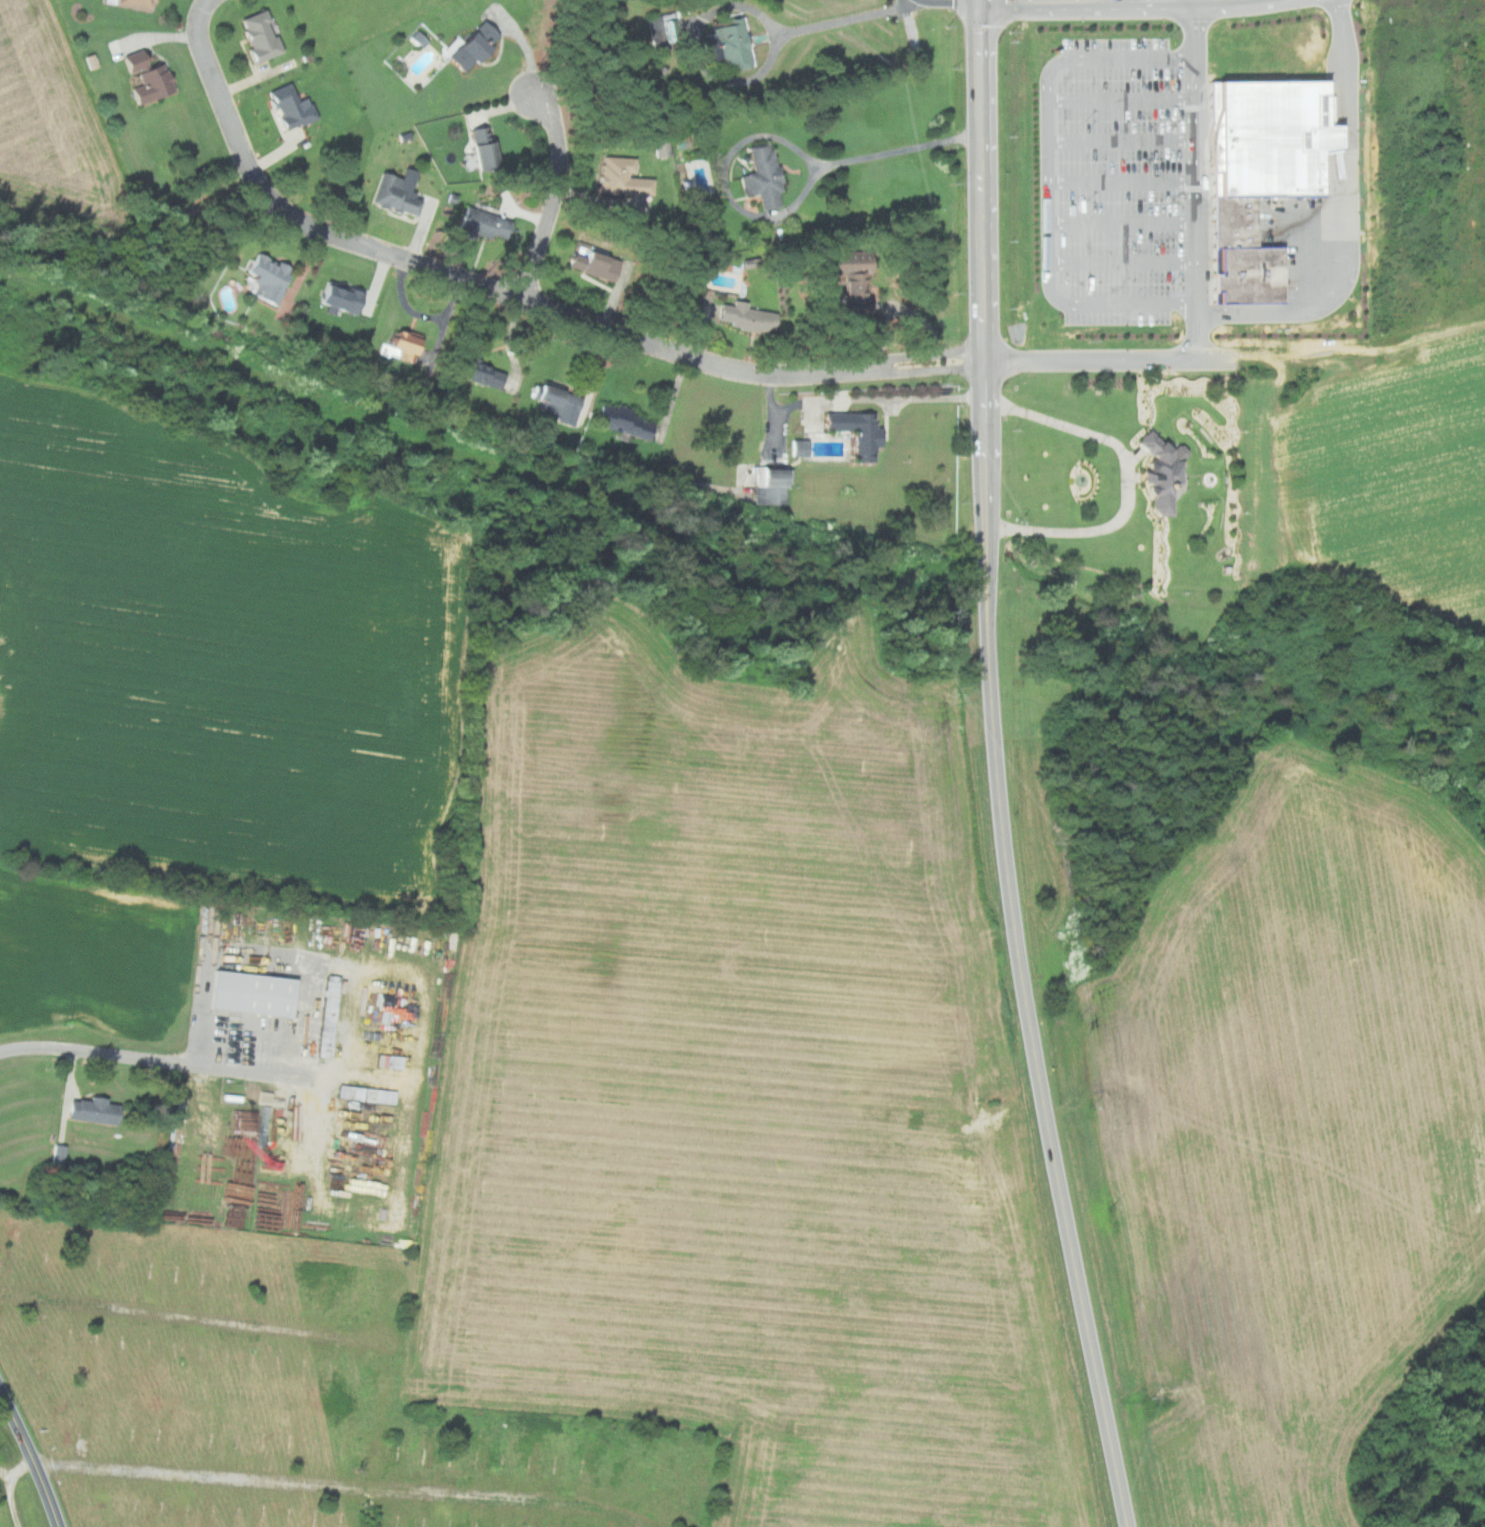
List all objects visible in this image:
building: (133, 2)
road: (848, 19)
building: (665, 29)
building: (264, 34)
building: (480, 44)
building: (732, 45)
building: (130, 61)
building: (150, 82)
road: (1122, 98)
building: (288, 106)
building: (1263, 138)
road: (1122, 139)
building: (660, 147)
building: (485, 149)
road: (1196, 161)
building: (625, 176)
building: (766, 176)
road: (1049, 180)
road: (1123, 180)
road: (563, 191)
building: (397, 193)
road: (792, 206)
building: (502, 220)
road: (1124, 221)
building: (1230, 222)
building: (480, 224)
building: (597, 263)
building: (860, 263)
road: (1124, 263)
building: (1241, 275)
building: (265, 277)
road: (986, 279)
building: (337, 297)
road: (516, 298)
road: (1300, 309)
building: (750, 317)
building: (403, 342)
building: (475, 371)
road: (864, 399)
building: (556, 403)
building: (622, 421)
building: (854, 431)
building: (797, 447)
building: (1158, 473)
road: (1128, 478)
building: (772, 483)
road: (309, 973)
building: (248, 993)
road: (1040, 1045)
road: (95, 1051)
building: (91, 1110)
road: (31, 1457)

